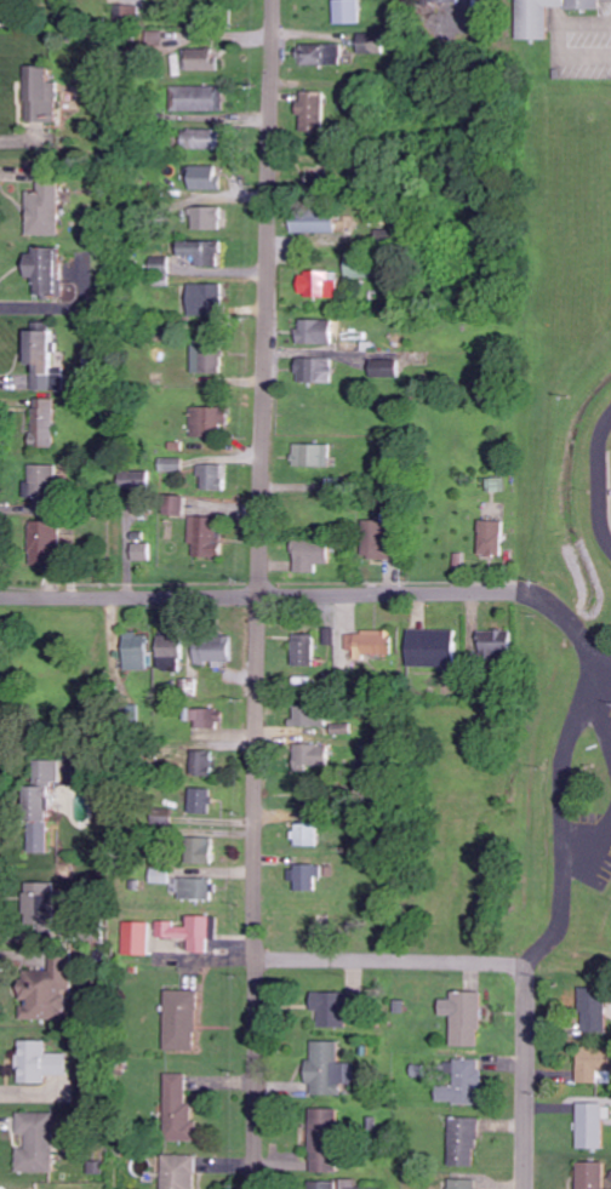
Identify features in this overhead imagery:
building: (444, 1)
building: (348, 11)
building: (132, 13)
building: (543, 15)
building: (155, 38)
building: (370, 47)
building: (321, 55)
building: (202, 59)
building: (42, 95)
building: (198, 98)
building: (310, 113)
building: (201, 139)
building: (204, 177)
building: (45, 210)
building: (206, 218)
building: (312, 222)
building: (201, 252)
building: (161, 267)
building: (42, 268)
building: (318, 284)
building: (205, 298)
building: (315, 332)
building: (38, 354)
building: (206, 360)
building: (383, 368)
building: (320, 371)
building: (207, 419)
building: (44, 423)
building: (312, 455)
building: (172, 463)
building: (211, 475)
road: (596, 475)
building: (135, 480)
building: (44, 481)
road: (610, 481)
building: (498, 484)
building: (173, 504)
building: (205, 536)
building: (490, 537)
building: (376, 539)
building: (45, 542)
building: (141, 550)
building: (309, 554)
road: (322, 593)
road: (259, 594)
building: (495, 640)
building: (369, 642)
building: (430, 647)
building: (213, 650)
building: (303, 650)
building: (135, 651)
building: (169, 652)
road: (604, 676)
road: (601, 714)
building: (302, 716)
building: (204, 718)
building: (309, 758)
building: (201, 762)
building: (200, 800)
building: (40, 804)
road: (559, 824)
building: (304, 834)
road: (590, 846)
building: (198, 850)
building: (304, 875)
building: (190, 887)
building: (41, 905)
building: (187, 932)
building: (136, 938)
road: (390, 961)
building: (46, 987)
building: (331, 1007)
building: (592, 1010)
building: (463, 1017)
building: (179, 1019)
building: (40, 1062)
building: (594, 1065)
building: (327, 1069)
road: (526, 1076)
building: (461, 1081)
building: (178, 1109)
building: (590, 1125)
building: (324, 1139)
building: (462, 1141)
building: (38, 1142)
building: (179, 1171)
building: (590, 1174)
building: (337, 1184)
building: (461, 1184)

